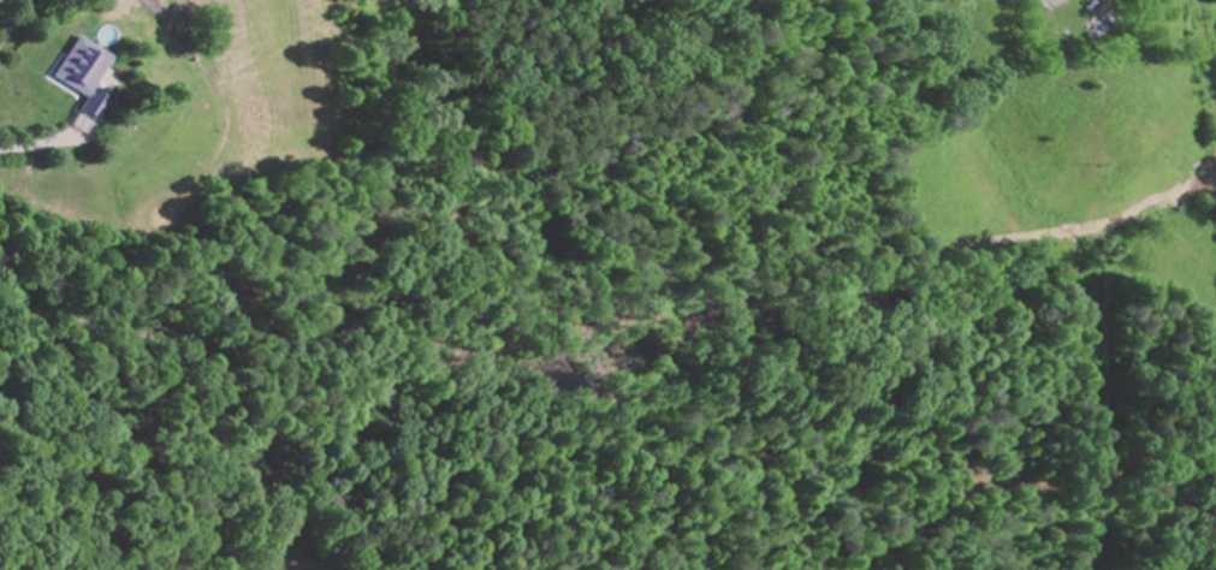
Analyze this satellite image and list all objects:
road: (17, 25)
building: (85, 73)
road: (1001, 188)

